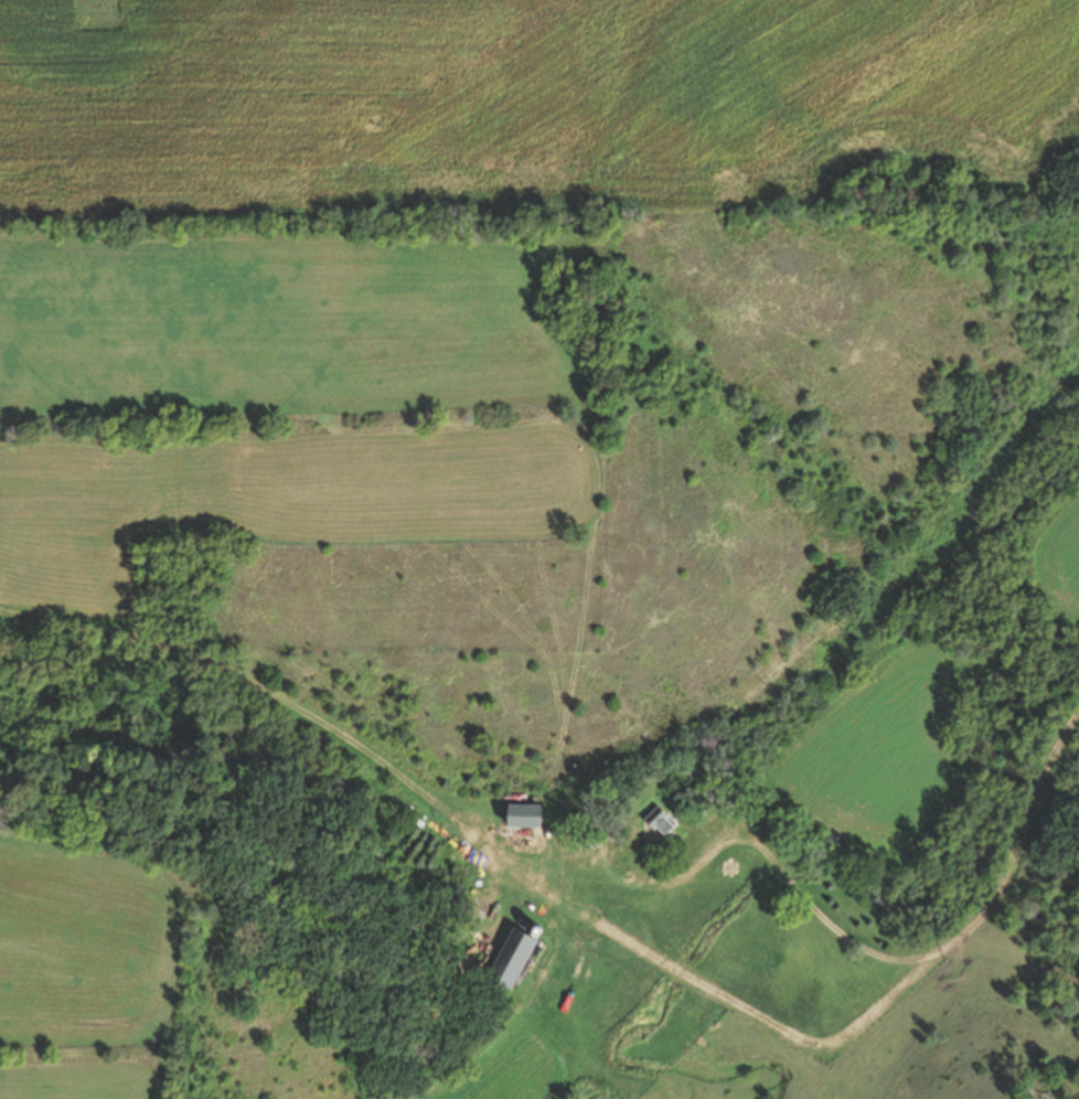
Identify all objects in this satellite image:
building: (524, 814)
building: (662, 820)
road: (941, 945)
building: (512, 958)

